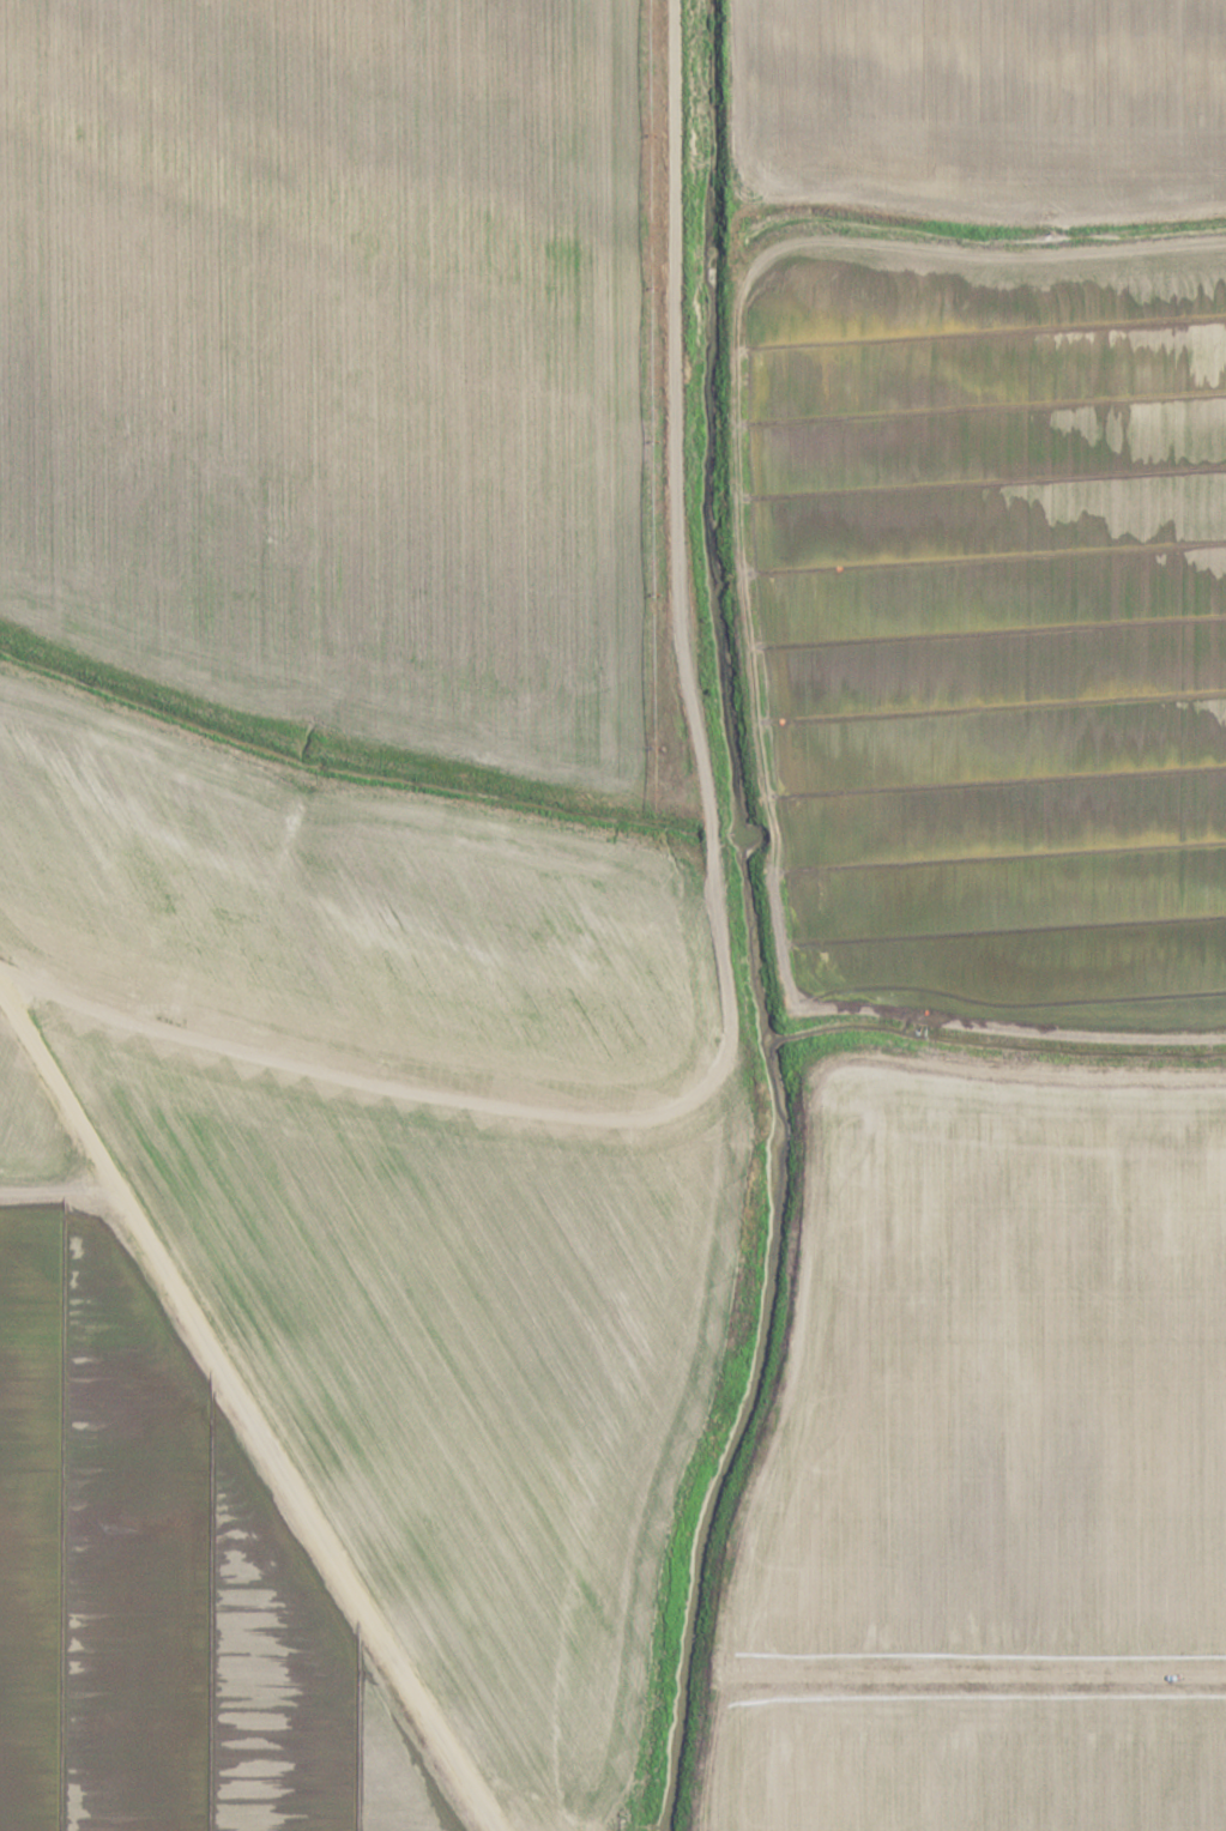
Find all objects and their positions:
road: (717, 919)
road: (241, 1415)

